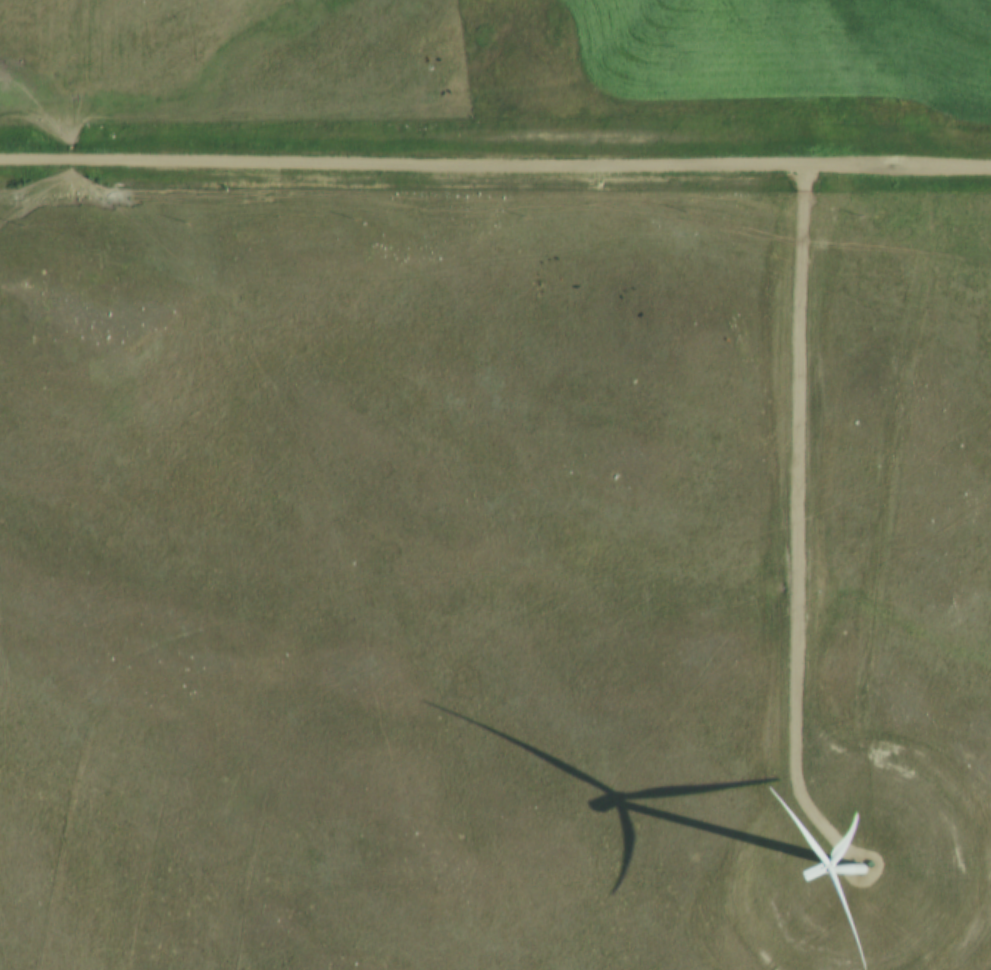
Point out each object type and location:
road: (495, 166)
wind turbine: (860, 871)

